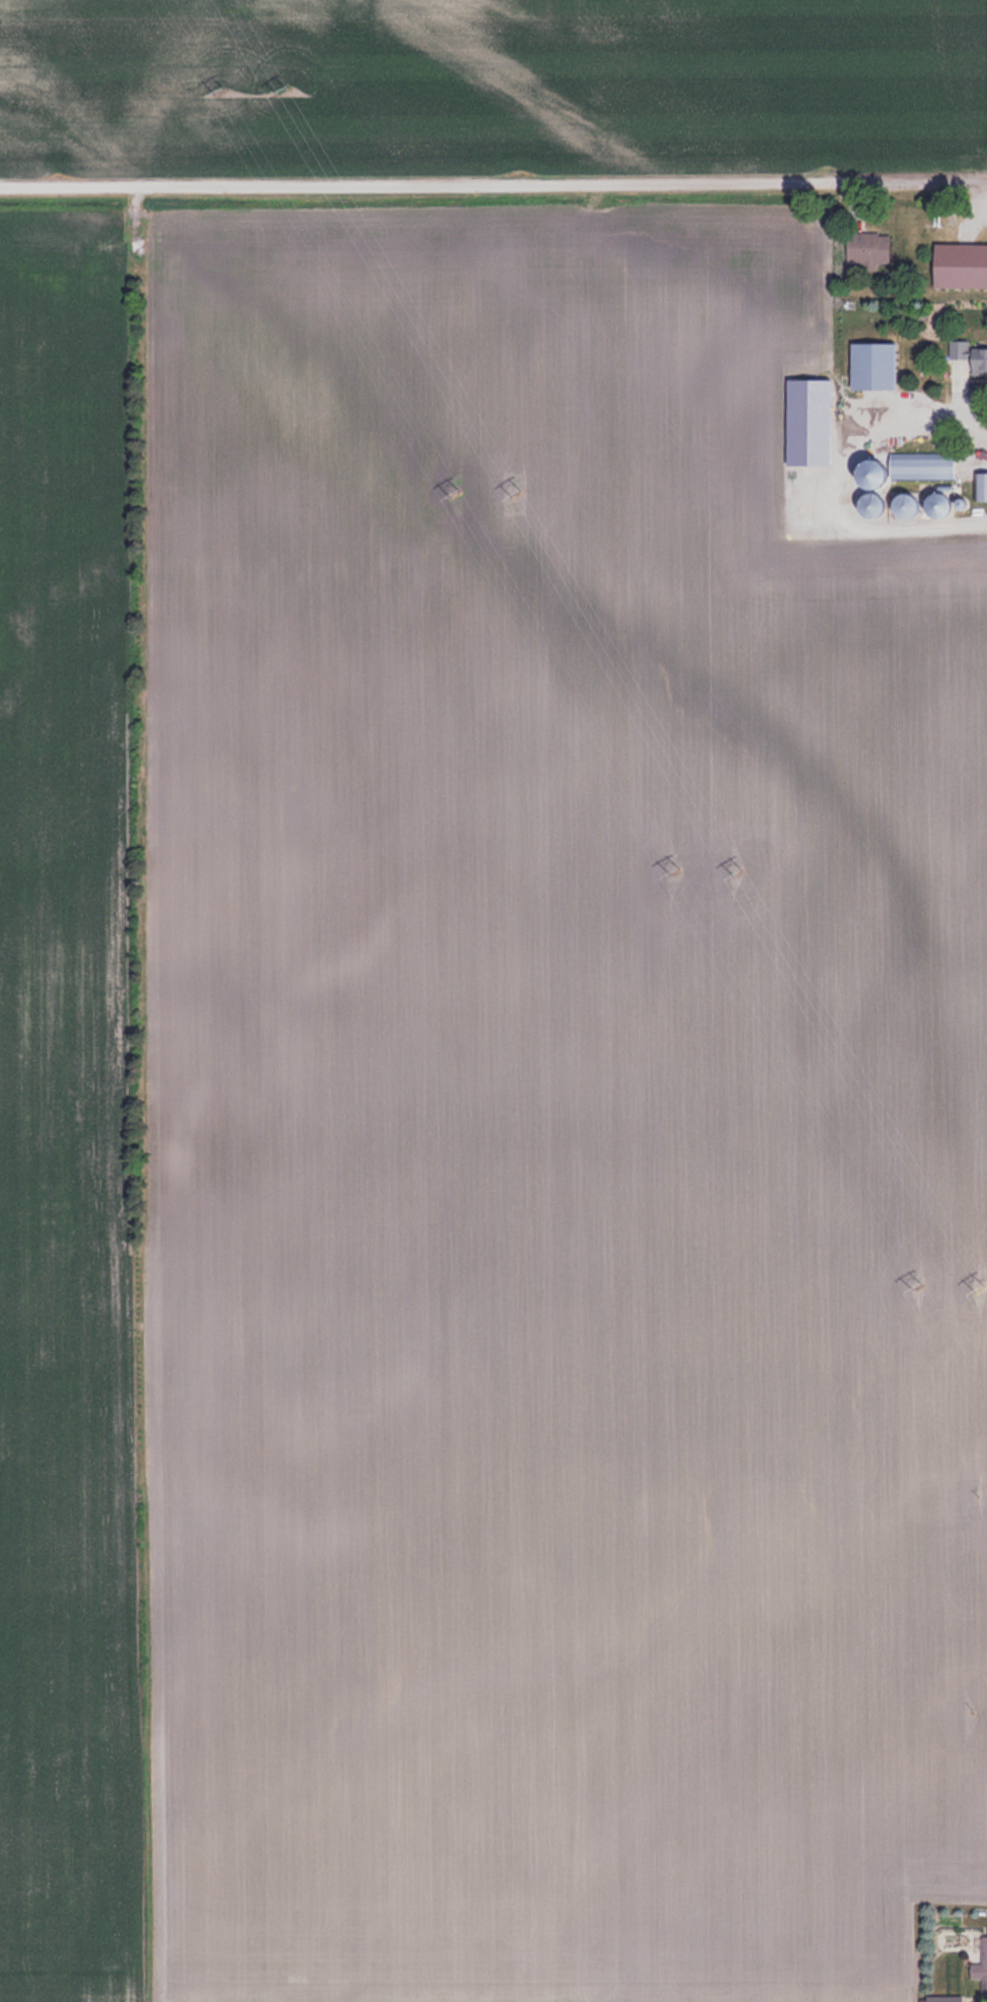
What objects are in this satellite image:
power tower: (221, 90)
power tower: (285, 90)
road: (493, 192)
building: (866, 249)
building: (958, 265)
building: (969, 356)
building: (870, 365)
building: (917, 466)
building: (979, 485)
power tower: (516, 492)
power tower: (453, 493)
building: (865, 504)
building: (899, 504)
power tower: (739, 869)
power tower: (674, 872)
power tower: (982, 1286)
power tower: (913, 1288)
building: (980, 1968)

